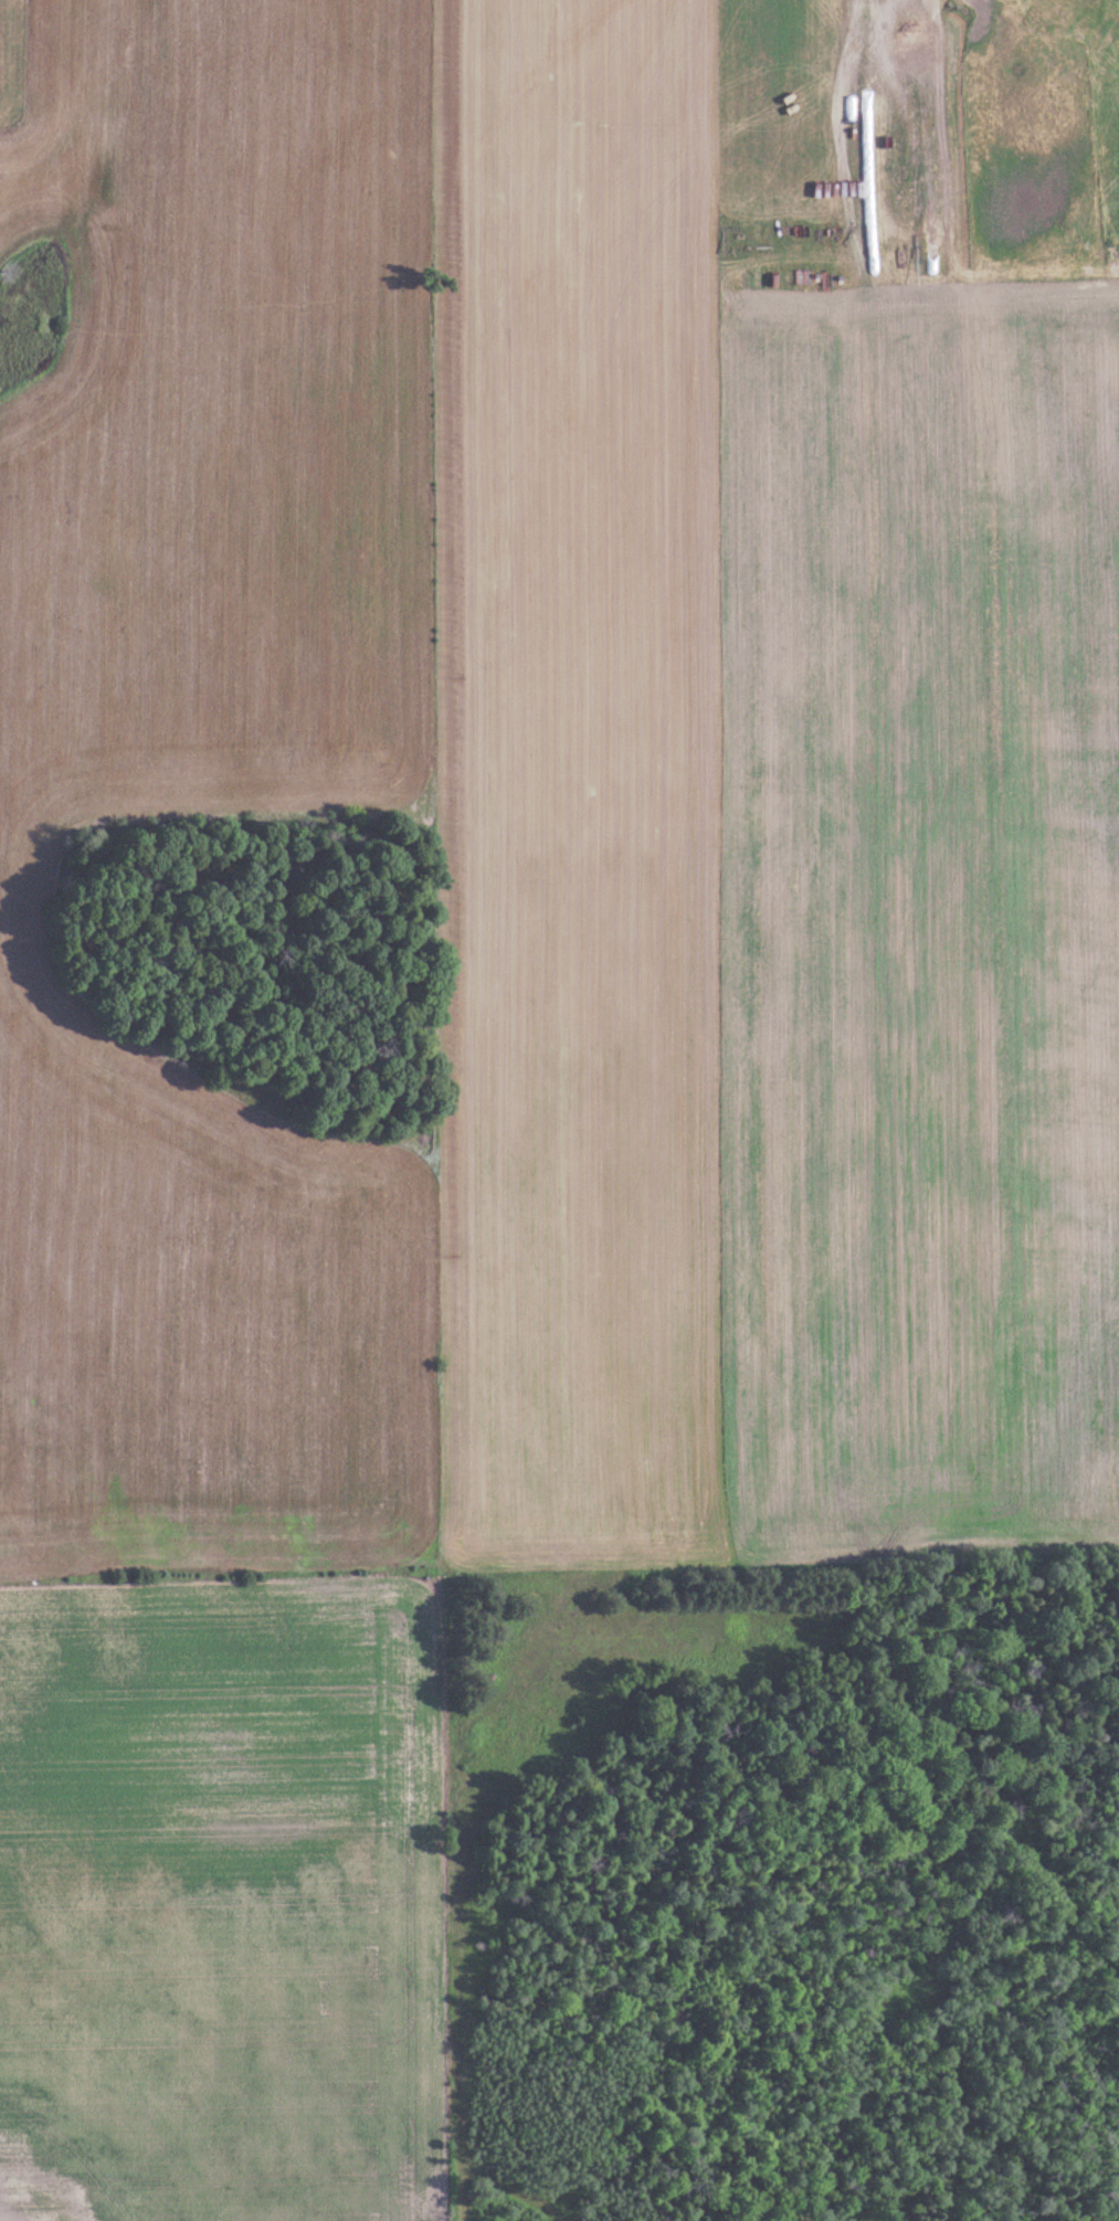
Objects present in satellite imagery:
building: (944, 44)
building: (925, 87)

